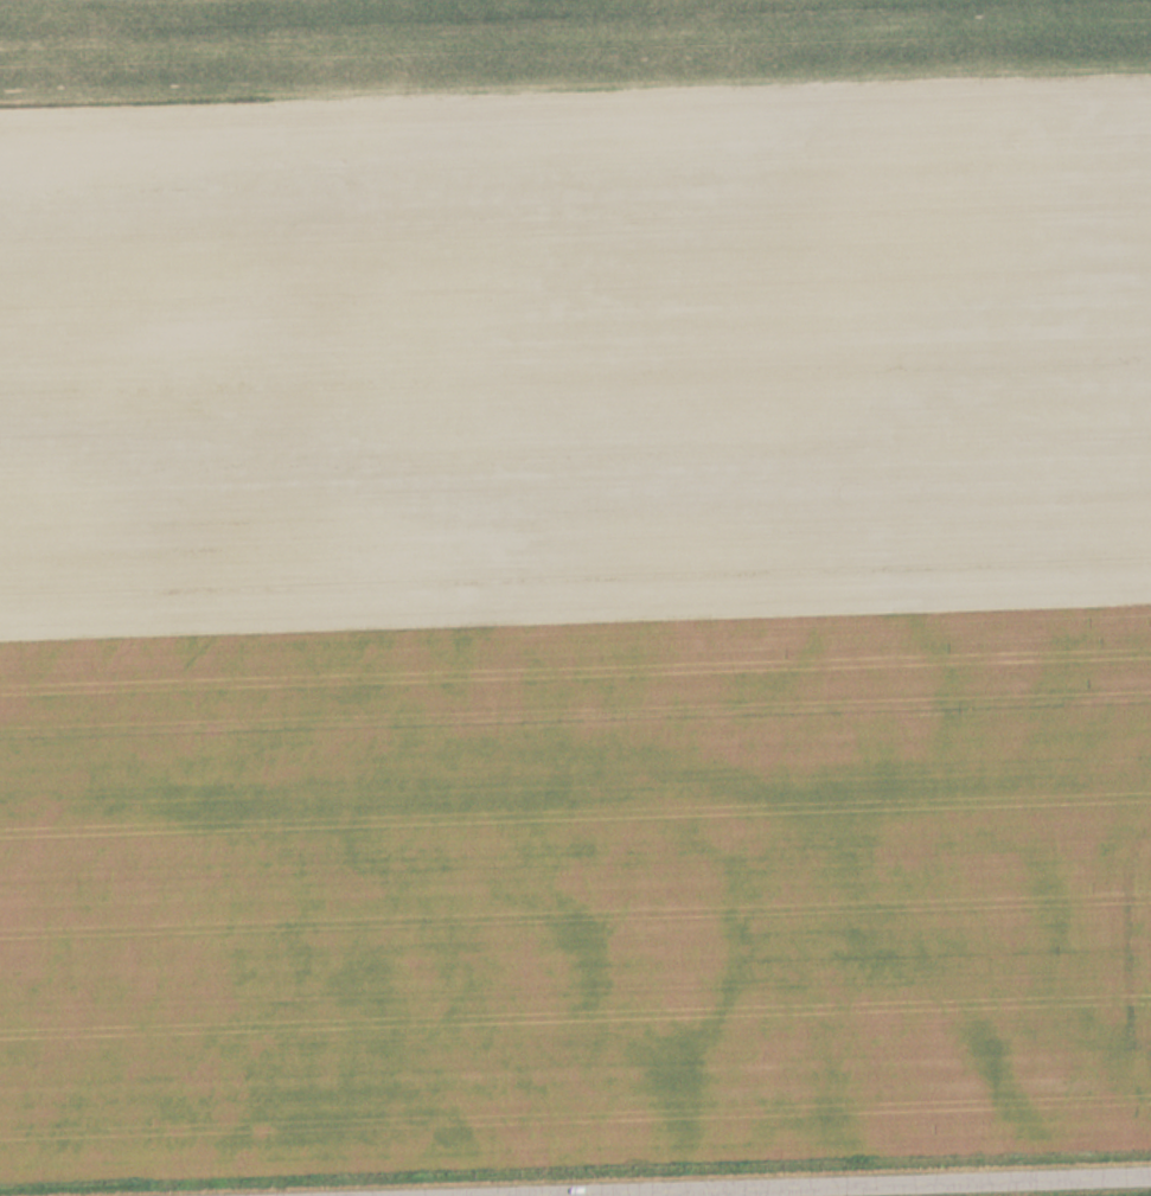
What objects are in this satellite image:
road: (846, 1187)

